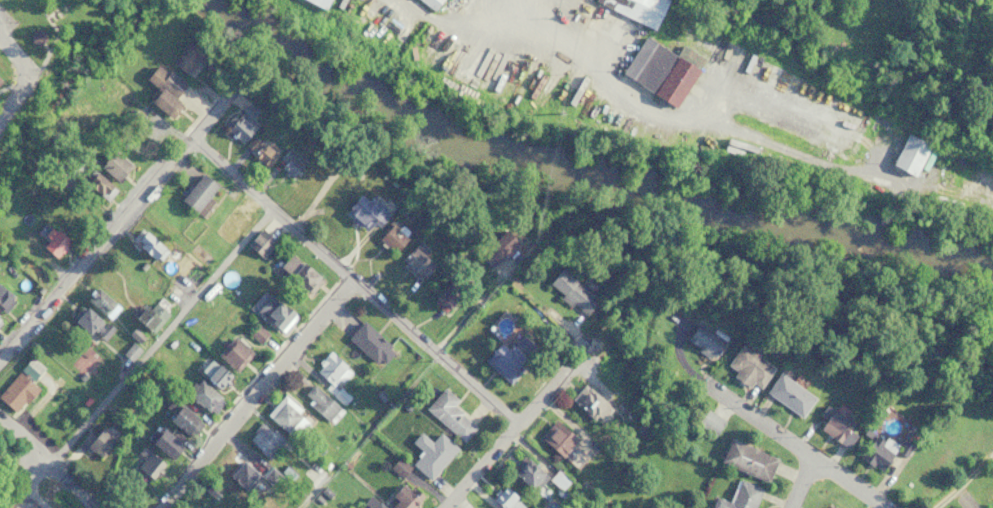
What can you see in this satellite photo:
building: (890, 0)
building: (318, 2)
building: (429, 3)
building: (637, 9)
road: (443, 20)
road: (56, 28)
building: (34, 35)
building: (193, 56)
road: (39, 66)
building: (223, 68)
building: (657, 70)
road: (25, 74)
building: (165, 79)
road: (3, 86)
road: (15, 89)
building: (269, 102)
building: (161, 103)
building: (248, 107)
building: (135, 113)
building: (237, 124)
road: (715, 126)
building: (260, 147)
building: (908, 153)
building: (110, 162)
building: (288, 164)
building: (75, 165)
river: (590, 171)
building: (97, 185)
building: (197, 193)
road: (580, 205)
building: (362, 210)
road: (120, 220)
building: (390, 238)
building: (51, 239)
building: (143, 241)
building: (258, 241)
building: (495, 247)
building: (421, 261)
road: (153, 263)
building: (142, 264)
building: (297, 274)
road: (357, 279)
building: (37, 289)
building: (572, 290)
building: (451, 292)
building: (4, 300)
building: (100, 301)
road: (478, 303)
building: (272, 312)
building: (149, 314)
building: (90, 323)
building: (257, 331)
road: (162, 332)
building: (134, 333)
building: (703, 339)
building: (170, 341)
building: (369, 343)
road: (109, 347)
building: (130, 350)
building: (231, 353)
building: (505, 358)
park: (86, 361)
building: (748, 364)
building: (28, 367)
building: (210, 371)
building: (332, 375)
building: (14, 390)
road: (257, 392)
building: (379, 394)
building: (788, 394)
building: (203, 396)
building: (85, 400)
building: (587, 401)
building: (320, 403)
building: (406, 403)
building: (448, 414)
building: (176, 416)
building: (286, 418)
building: (707, 420)
road: (375, 423)
building: (836, 423)
building: (641, 425)
road: (518, 427)
road: (784, 435)
building: (263, 439)
building: (95, 440)
building: (560, 443)
building: (163, 444)
building: (904, 445)
building: (429, 452)
building: (875, 453)
road: (47, 457)
building: (747, 459)
building: (325, 462)
building: (346, 464)
road: (26, 466)
building: (397, 467)
building: (144, 470)
building: (527, 473)
building: (278, 474)
building: (238, 475)
road: (963, 478)
building: (559, 480)
road: (803, 482)
building: (101, 490)
building: (211, 491)
building: (320, 495)
building: (737, 496)
building: (502, 497)
building: (400, 498)
road: (23, 500)
road: (33, 500)
road: (305, 501)
building: (606, 501)
building: (370, 502)
building: (829, 506)

